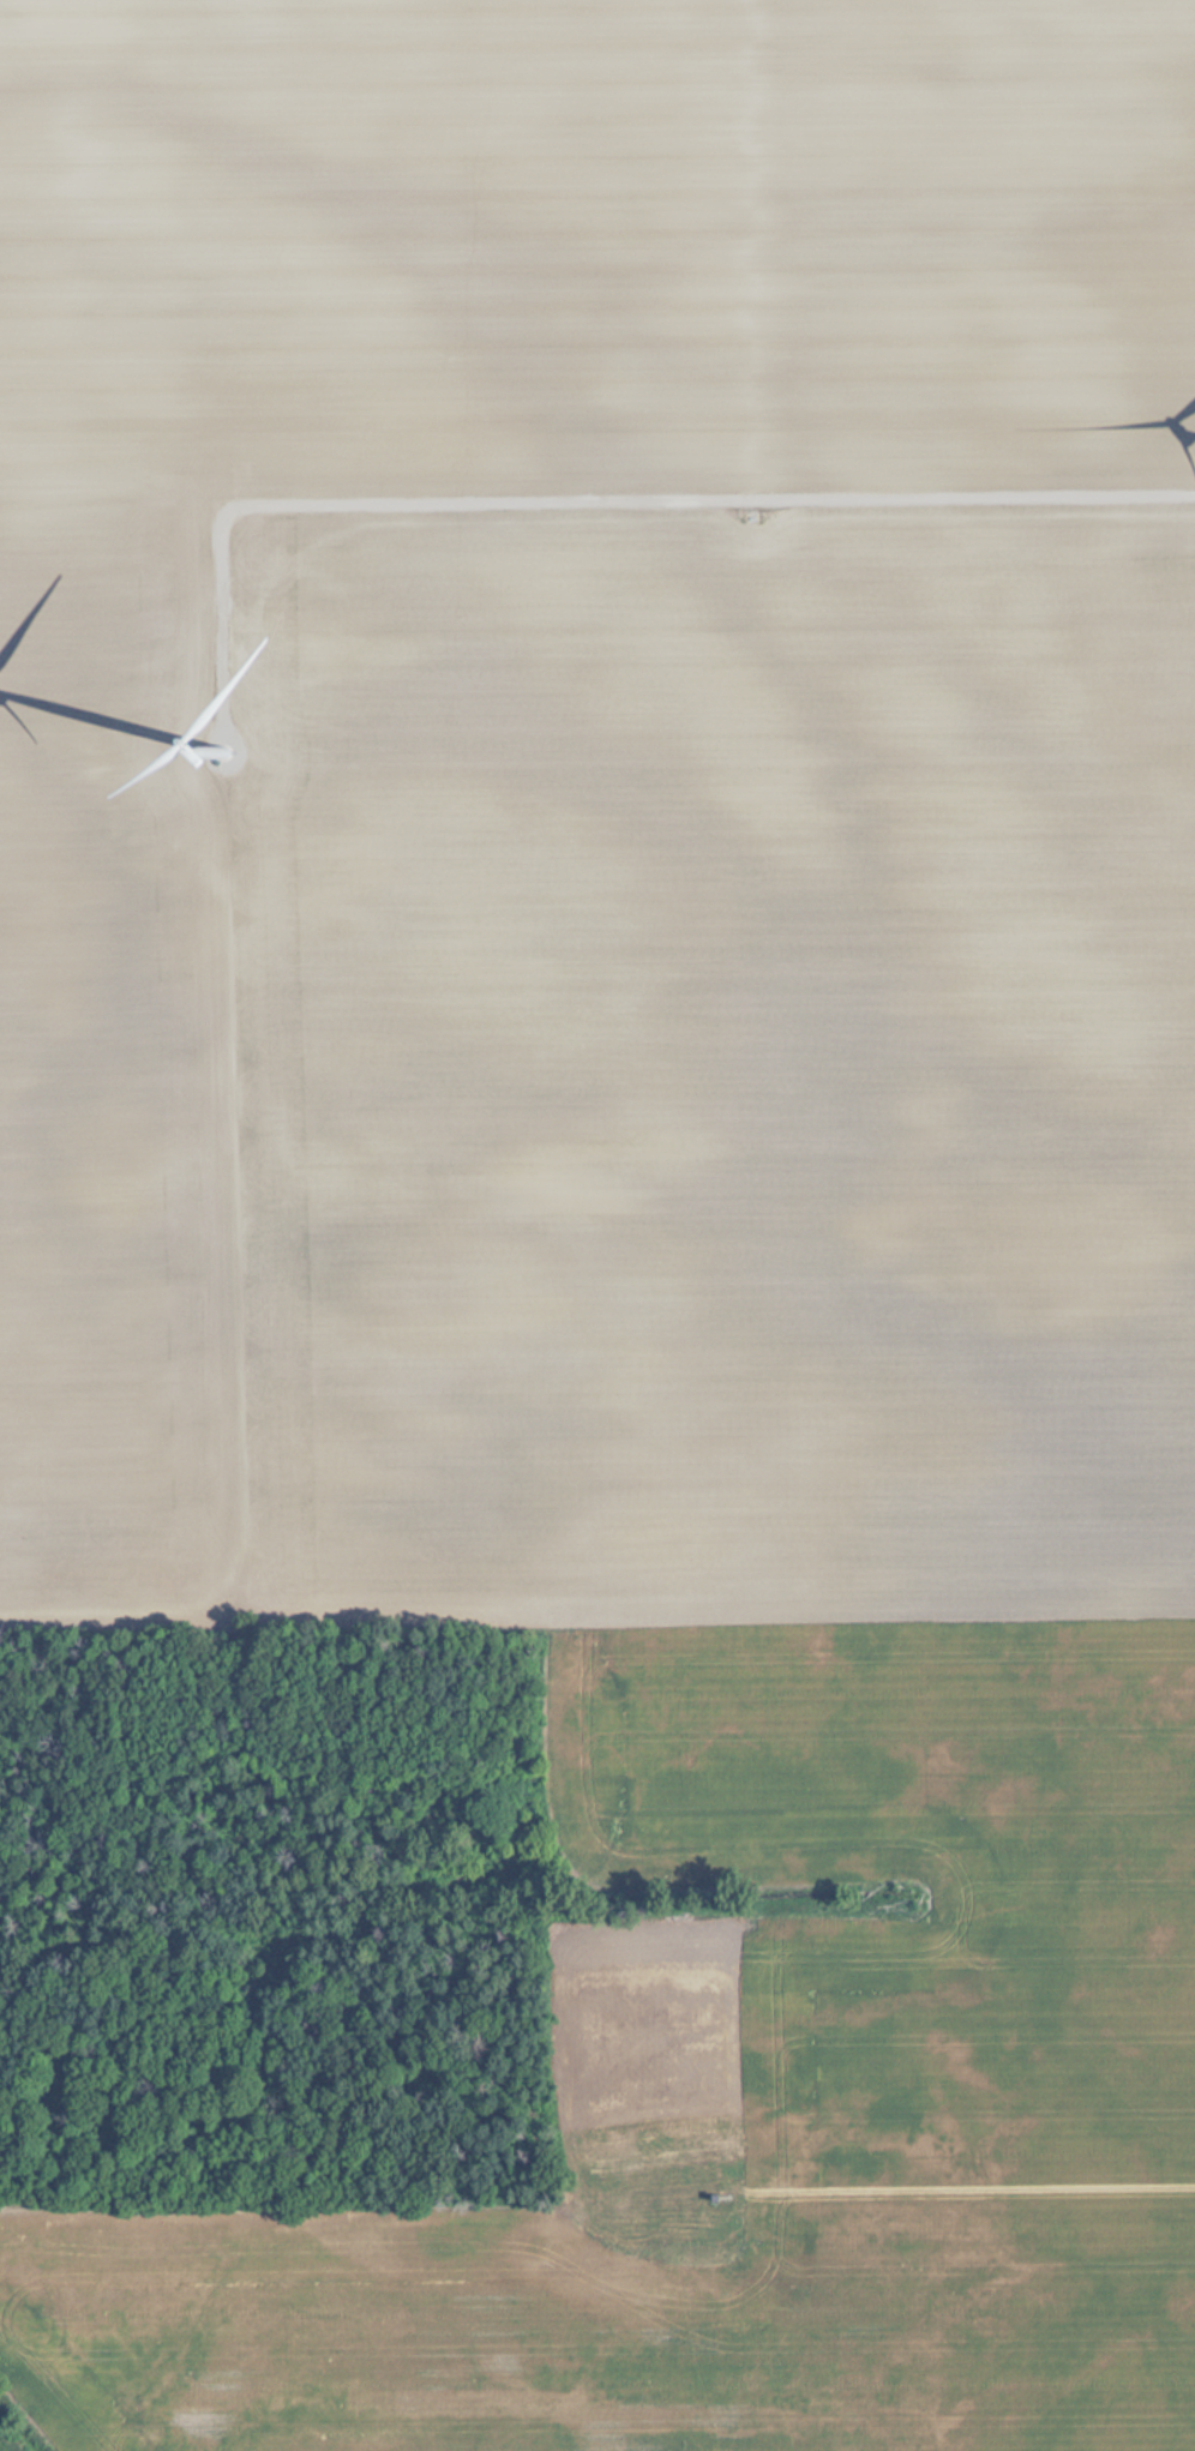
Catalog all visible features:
wind turbine: (216, 747)

